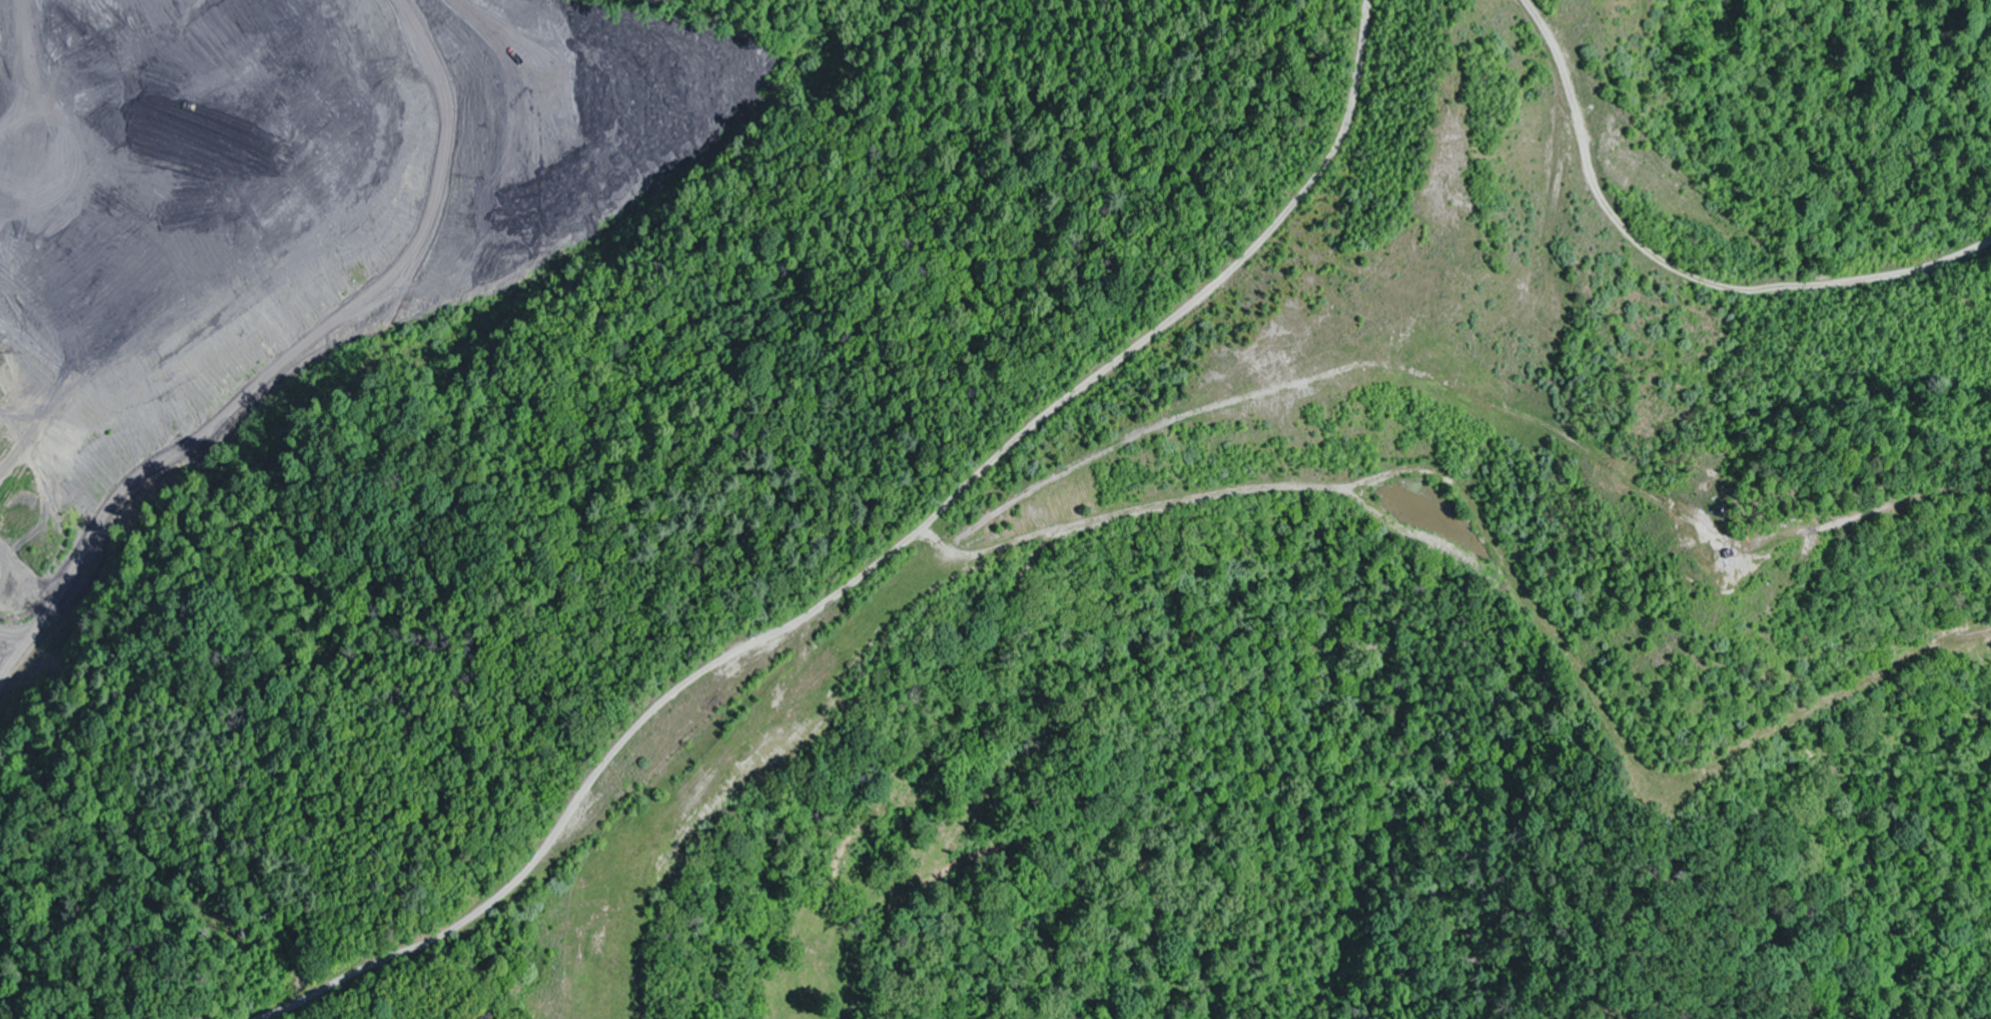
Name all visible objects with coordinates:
road: (1556, 427)
road: (1219, 550)

